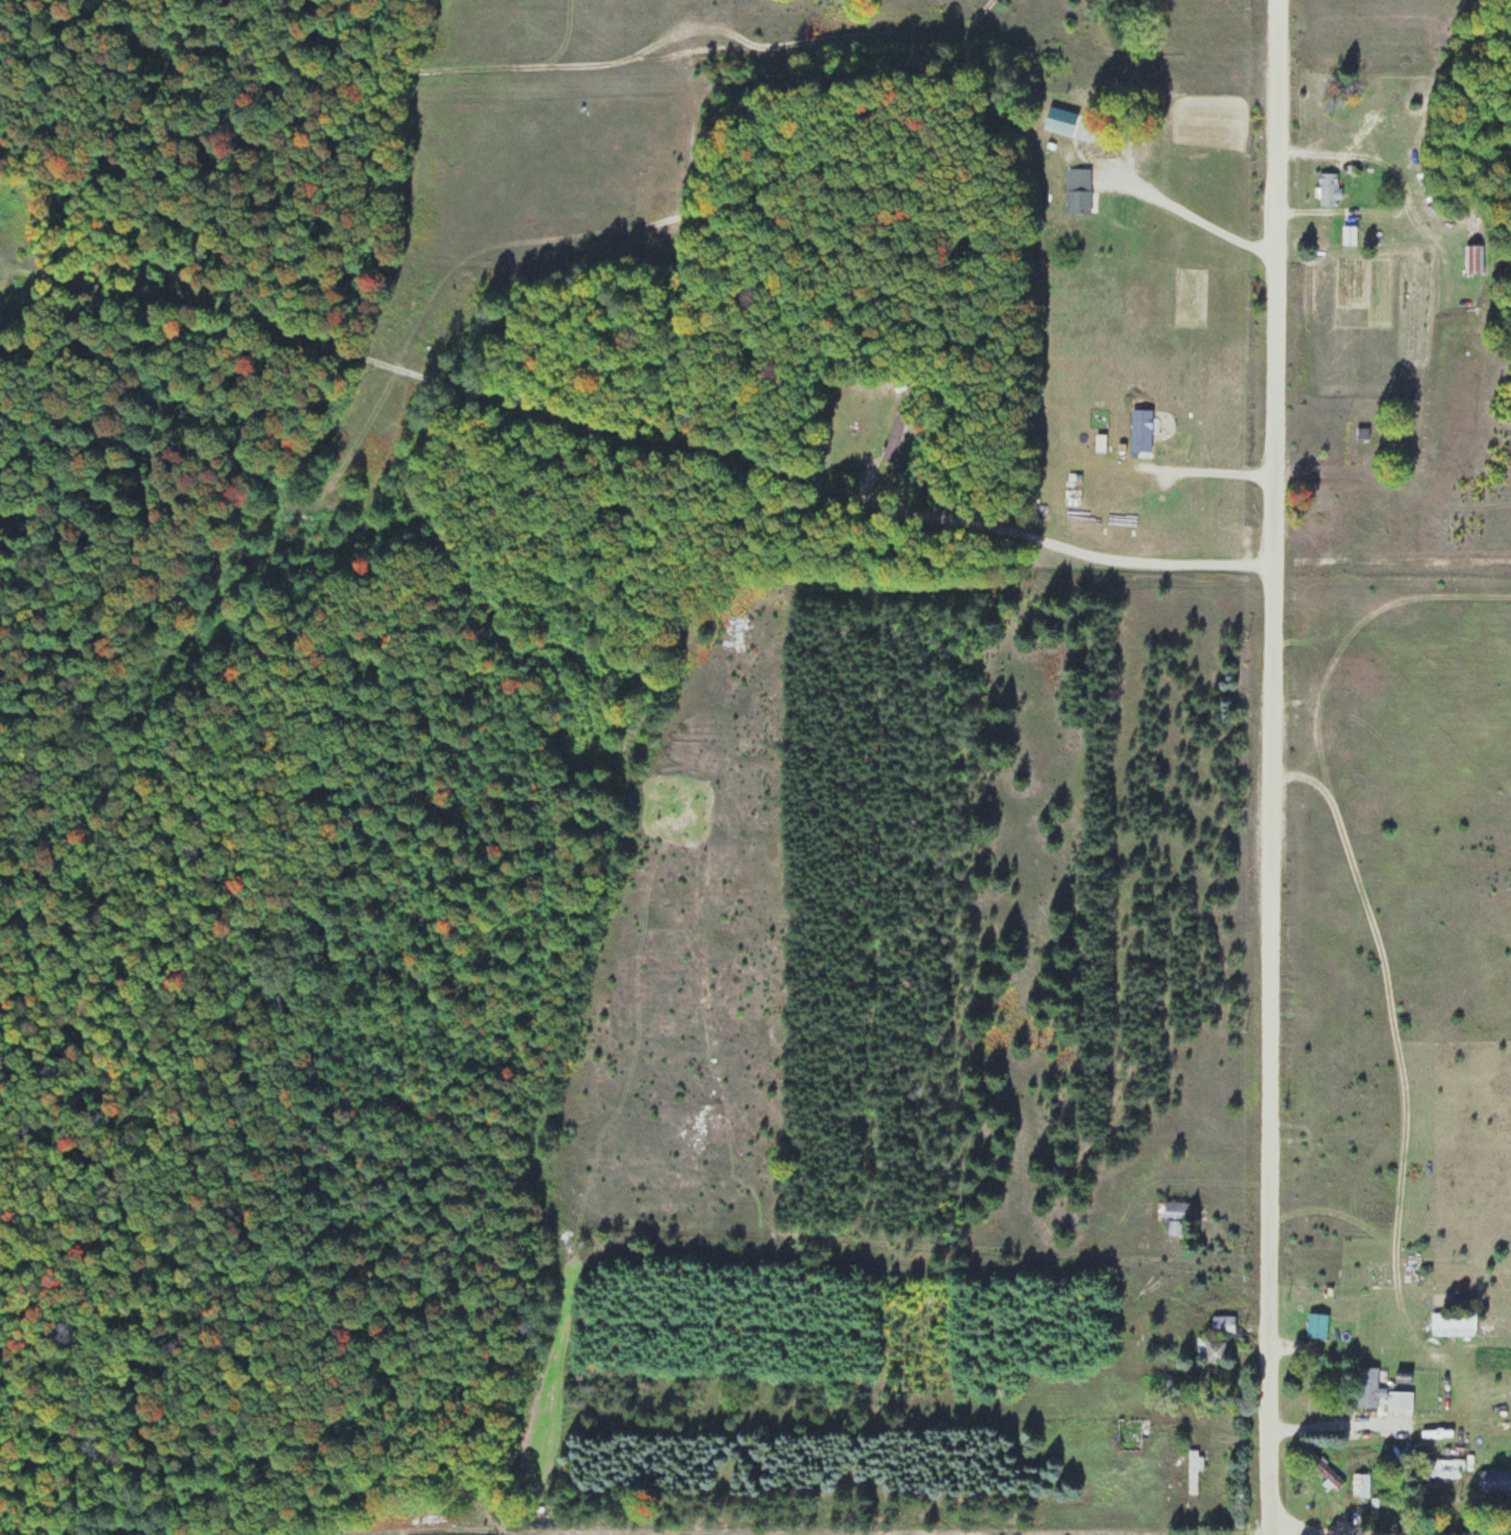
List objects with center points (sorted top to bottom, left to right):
building: (1069, 123)
building: (1328, 188)
building: (1078, 190)
building: (1349, 234)
building: (1474, 258)
building: (1146, 429)
building: (1361, 433)
road: (1271, 767)
building: (1175, 1216)
building: (1222, 1324)
building: (1315, 1324)
building: (1454, 1325)
building: (1209, 1350)
building: (1379, 1391)
building: (1323, 1468)
building: (1193, 1470)
building: (1494, 1480)
building: (1360, 1485)

